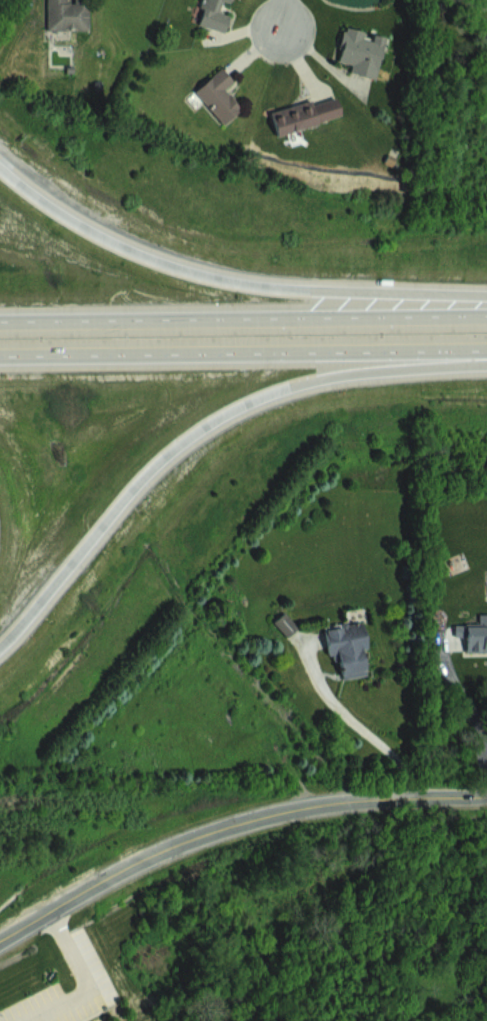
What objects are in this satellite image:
building: (67, 14)
building: (212, 14)
road: (284, 15)
building: (360, 51)
building: (217, 94)
building: (303, 114)
road: (229, 280)
road: (243, 319)
road: (243, 353)
road: (201, 430)
building: (284, 623)
building: (472, 636)
building: (346, 647)
road: (460, 705)
road: (364, 734)
road: (230, 825)
road: (78, 981)

